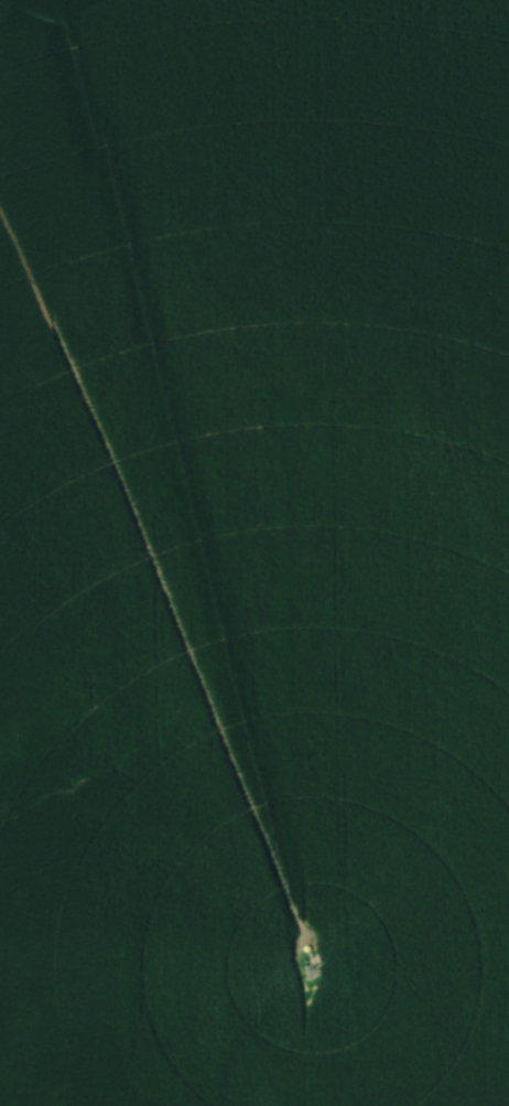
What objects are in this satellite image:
building: (339, 14)

